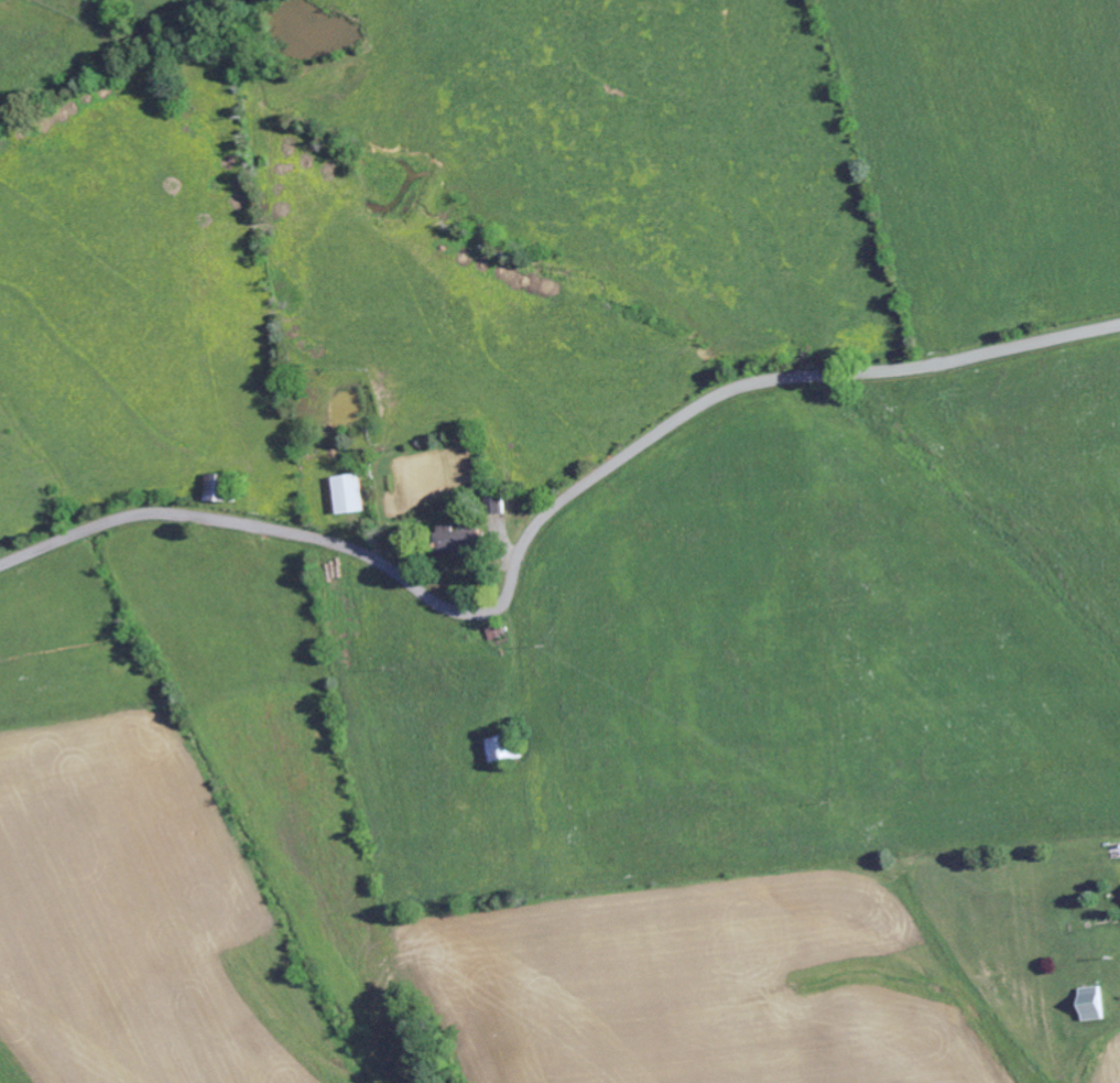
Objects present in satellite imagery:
building: (219, 488)
building: (350, 495)
road: (543, 526)
building: (458, 540)
building: (505, 749)
building: (1094, 1004)

